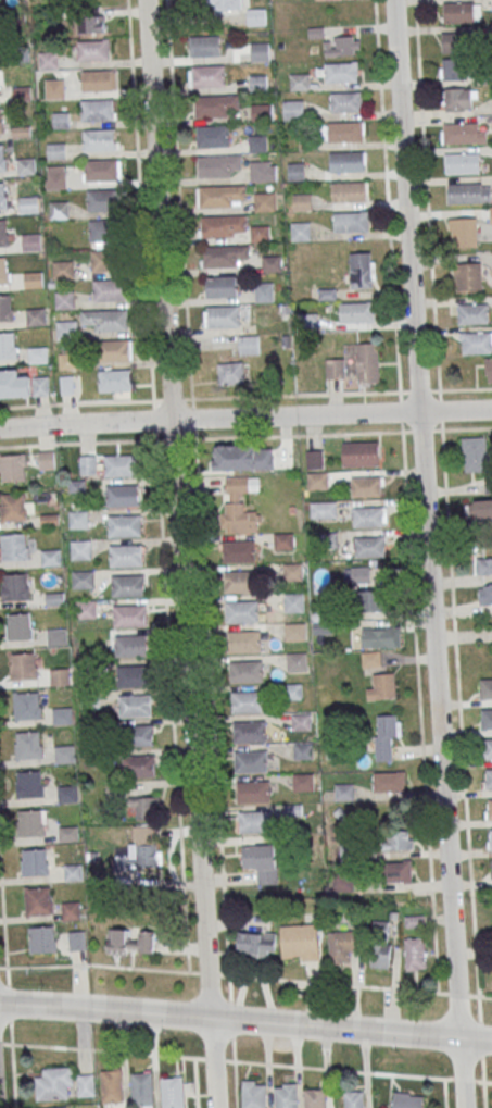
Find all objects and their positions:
building: (227, 4)
building: (461, 12)
building: (90, 23)
building: (454, 41)
building: (204, 45)
building: (340, 46)
building: (92, 49)
building: (260, 51)
building: (47, 60)
building: (453, 69)
building: (340, 72)
building: (209, 75)
building: (97, 79)
building: (299, 80)
building: (0, 82)
building: (258, 83)
building: (53, 88)
building: (458, 99)
building: (345, 101)
building: (211, 105)
building: (97, 109)
building: (293, 109)
building: (261, 112)
building: (60, 120)
building: (0, 121)
building: (344, 130)
building: (462, 133)
building: (213, 136)
building: (99, 139)
building: (257, 142)
building: (55, 150)
building: (2, 158)
building: (346, 161)
building: (461, 163)
building: (25, 165)
building: (218, 165)
building: (101, 169)
building: (262, 171)
building: (297, 171)
building: (55, 178)
building: (348, 191)
building: (464, 192)
building: (2, 195)
building: (220, 195)
building: (103, 200)
road: (140, 200)
building: (264, 201)
building: (27, 204)
building: (58, 210)
building: (491, 214)
building: (350, 221)
building: (222, 225)
building: (104, 229)
building: (300, 231)
building: (463, 232)
building: (3, 233)
building: (260, 233)
building: (30, 241)
building: (223, 254)
building: (106, 259)
building: (272, 263)
building: (62, 270)
building: (362, 270)
building: (3, 271)
building: (468, 277)
building: (34, 279)
building: (222, 286)
building: (110, 289)
building: (264, 291)
building: (63, 299)
building: (5, 308)
building: (357, 311)
building: (472, 313)
building: (223, 315)
building: (36, 316)
building: (111, 319)
building: (66, 329)
building: (475, 341)
building: (248, 344)
building: (8, 346)
building: (112, 349)
building: (37, 354)
building: (67, 360)
building: (366, 362)
building: (335, 369)
building: (488, 369)
building: (230, 372)
building: (114, 379)
building: (14, 384)
road: (245, 396)
road: (245, 416)
road: (245, 435)
building: (359, 452)
building: (475, 453)
building: (242, 457)
building: (46, 459)
building: (119, 464)
building: (12, 466)
building: (316, 480)
road: (197, 486)
building: (366, 486)
building: (122, 495)
road: (405, 496)
road: (446, 497)
building: (239, 503)
building: (12, 507)
building: (479, 508)
building: (323, 509)
building: (368, 516)
building: (77, 519)
building: (123, 525)
building: (327, 538)
building: (282, 540)
building: (14, 546)
building: (369, 546)
building: (79, 548)
building: (238, 551)
road: (179, 553)
road: (428, 553)
building: (126, 556)
building: (50, 557)
building: (483, 564)
building: (291, 571)
building: (356, 574)
building: (81, 578)
building: (239, 581)
building: (127, 585)
building: (13, 586)
building: (484, 594)
building: (292, 600)
building: (370, 600)
building: (84, 608)
building: (241, 611)
building: (129, 614)
building: (17, 626)
building: (293, 631)
building: (378, 637)
building: (243, 640)
building: (131, 645)
building: (370, 659)
building: (295, 661)
building: (22, 665)
building: (245, 671)
building: (60, 675)
building: (133, 675)
road: (172, 685)
building: (381, 686)
building: (485, 688)
building: (248, 701)
building: (27, 705)
building: (134, 705)
building: (62, 714)
building: (487, 718)
building: (301, 721)
building: (249, 731)
building: (386, 734)
building: (137, 735)
building: (27, 744)
building: (488, 748)
building: (65, 754)
building: (251, 761)
building: (139, 765)
building: (489, 779)
building: (389, 781)
building: (303, 782)
building: (28, 784)
building: (343, 790)
building: (253, 792)
building: (66, 793)
building: (143, 807)
building: (490, 808)
building: (29, 822)
building: (255, 822)
building: (490, 837)
building: (401, 839)
building: (140, 849)
building: (258, 856)
building: (33, 861)
building: (491, 864)
building: (72, 871)
building: (398, 871)
building: (37, 900)
building: (71, 910)
road: (3, 914)
building: (41, 938)
building: (77, 939)
building: (130, 941)
building: (300, 942)
building: (256, 944)
building: (380, 944)
building: (343, 945)
building: (415, 954)
road: (7, 974)
road: (245, 975)
road: (9, 1001)
road: (229, 1019)
road: (476, 1037)
road: (231, 1041)
road: (483, 1050)
road: (245, 1060)
road: (13, 1063)
road: (195, 1082)
building: (54, 1083)
building: (86, 1084)
building: (112, 1086)
building: (142, 1090)
building: (173, 1092)
road: (443, 1092)
building: (253, 1094)
building: (286, 1095)
building: (316, 1097)
building: (354, 1098)
building: (407, 1099)
building: (55, 1107)

